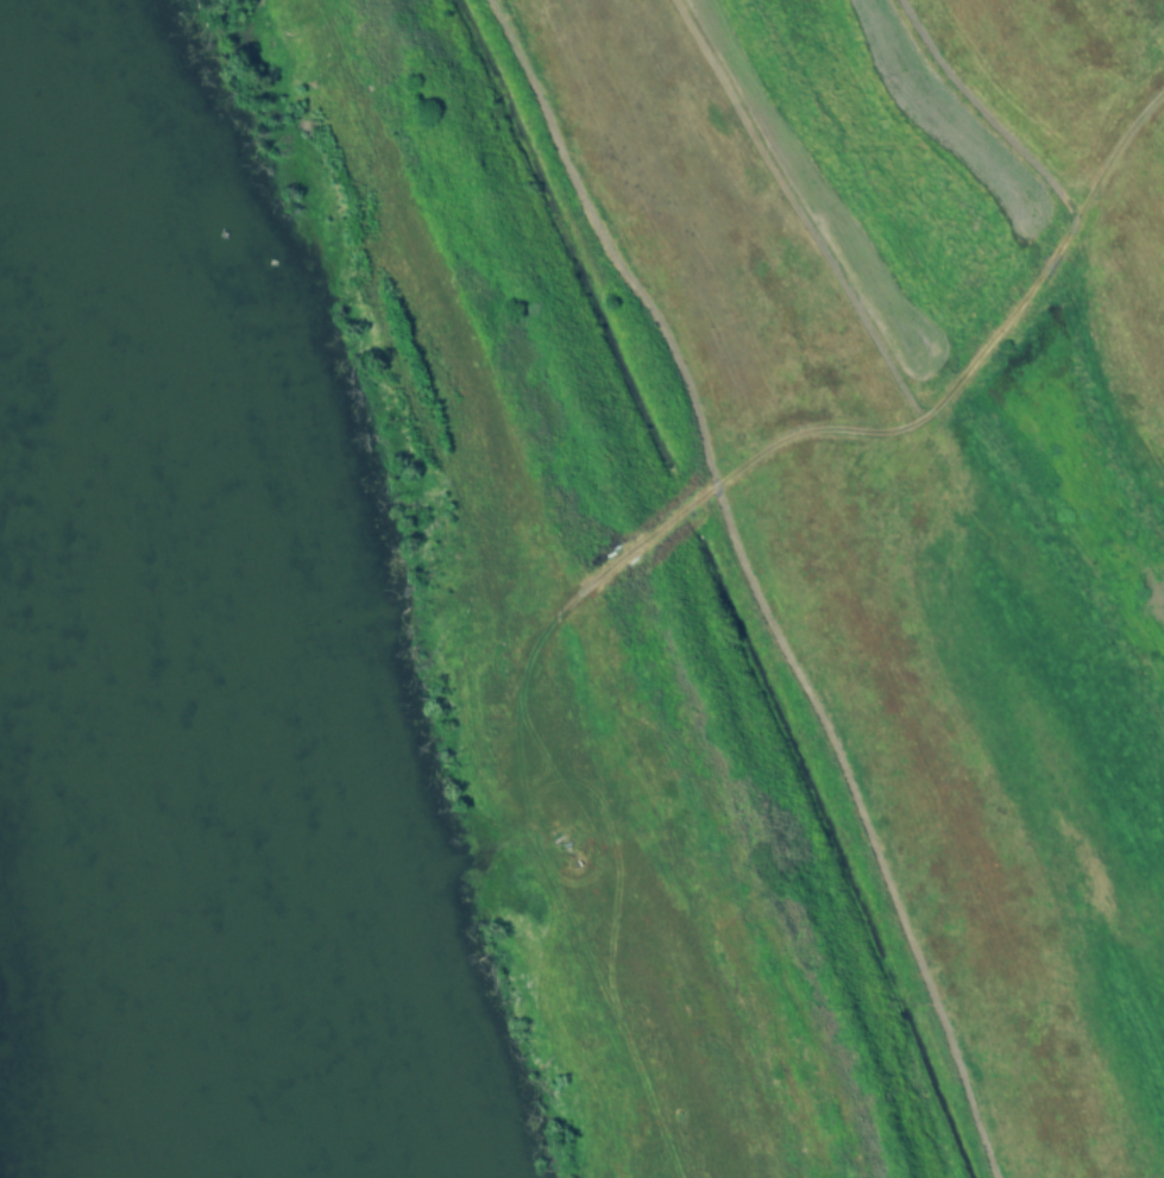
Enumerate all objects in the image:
road: (931, 415)

